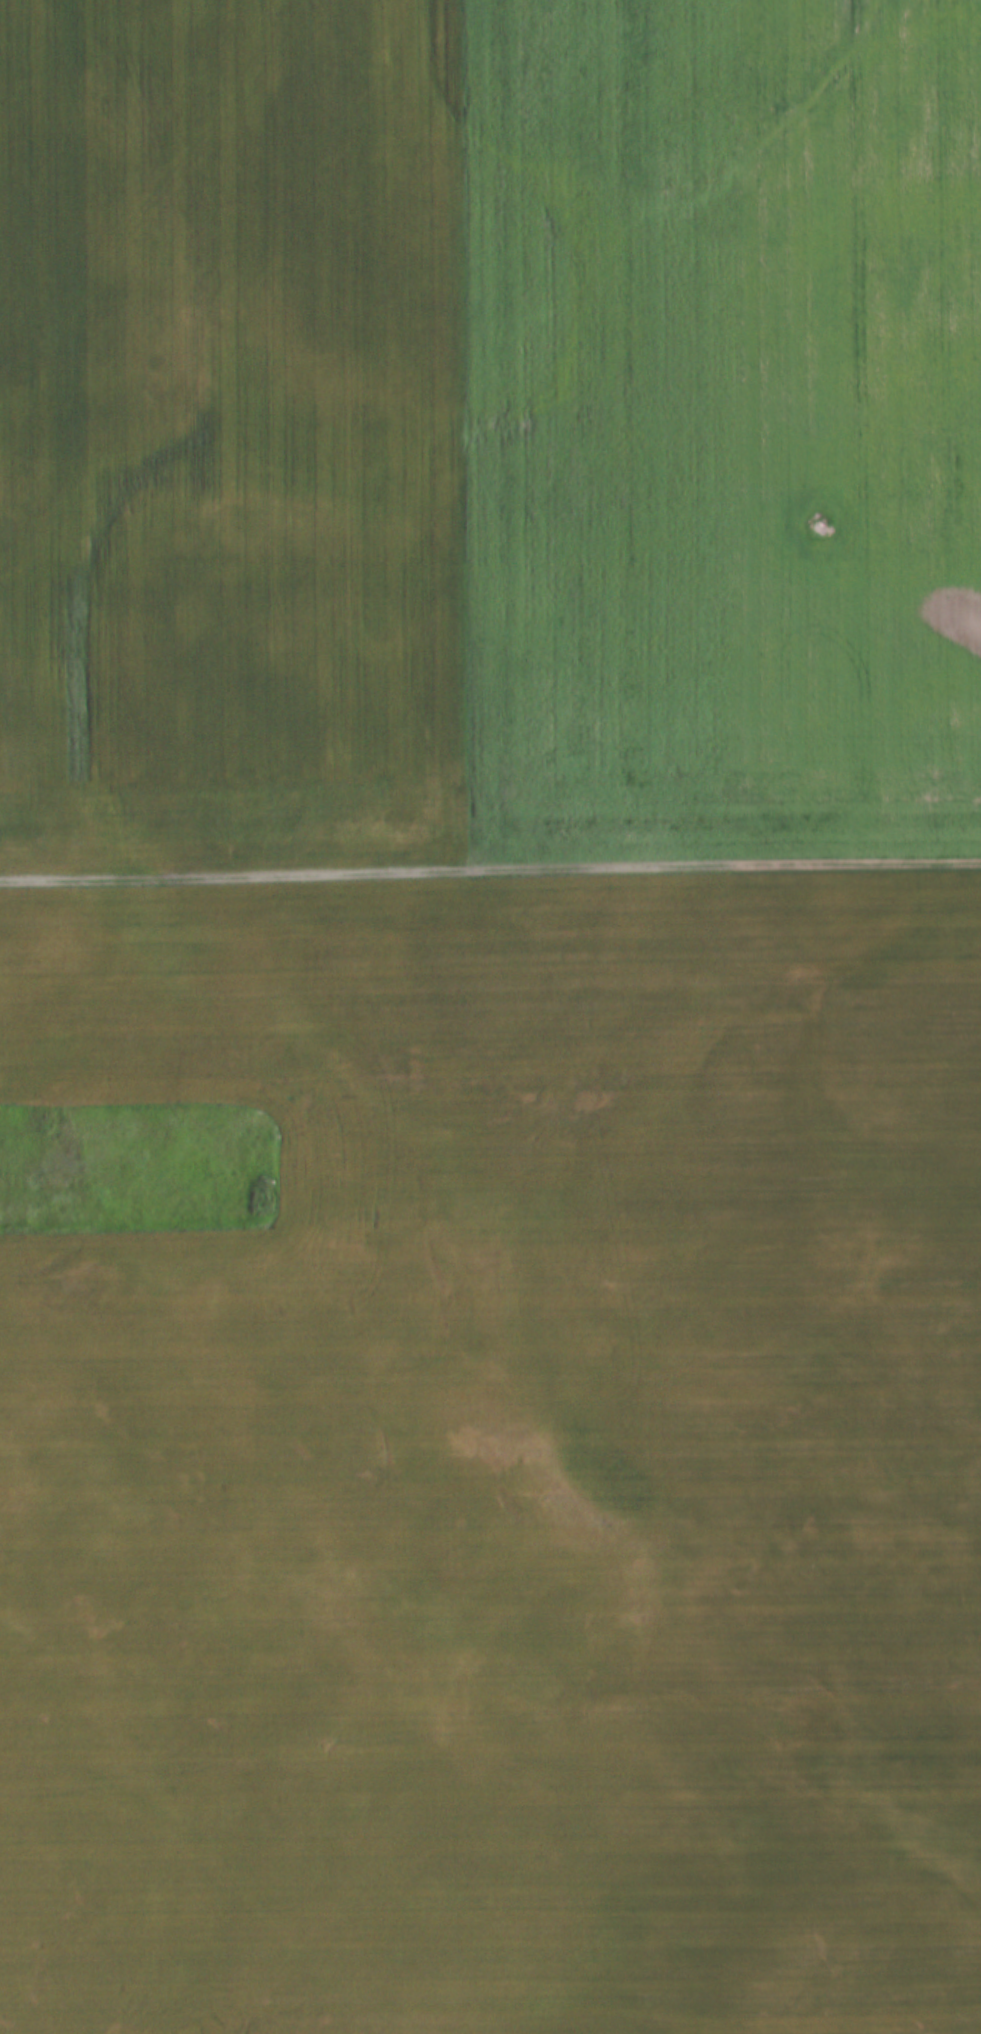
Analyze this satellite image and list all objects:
road: (490, 865)

